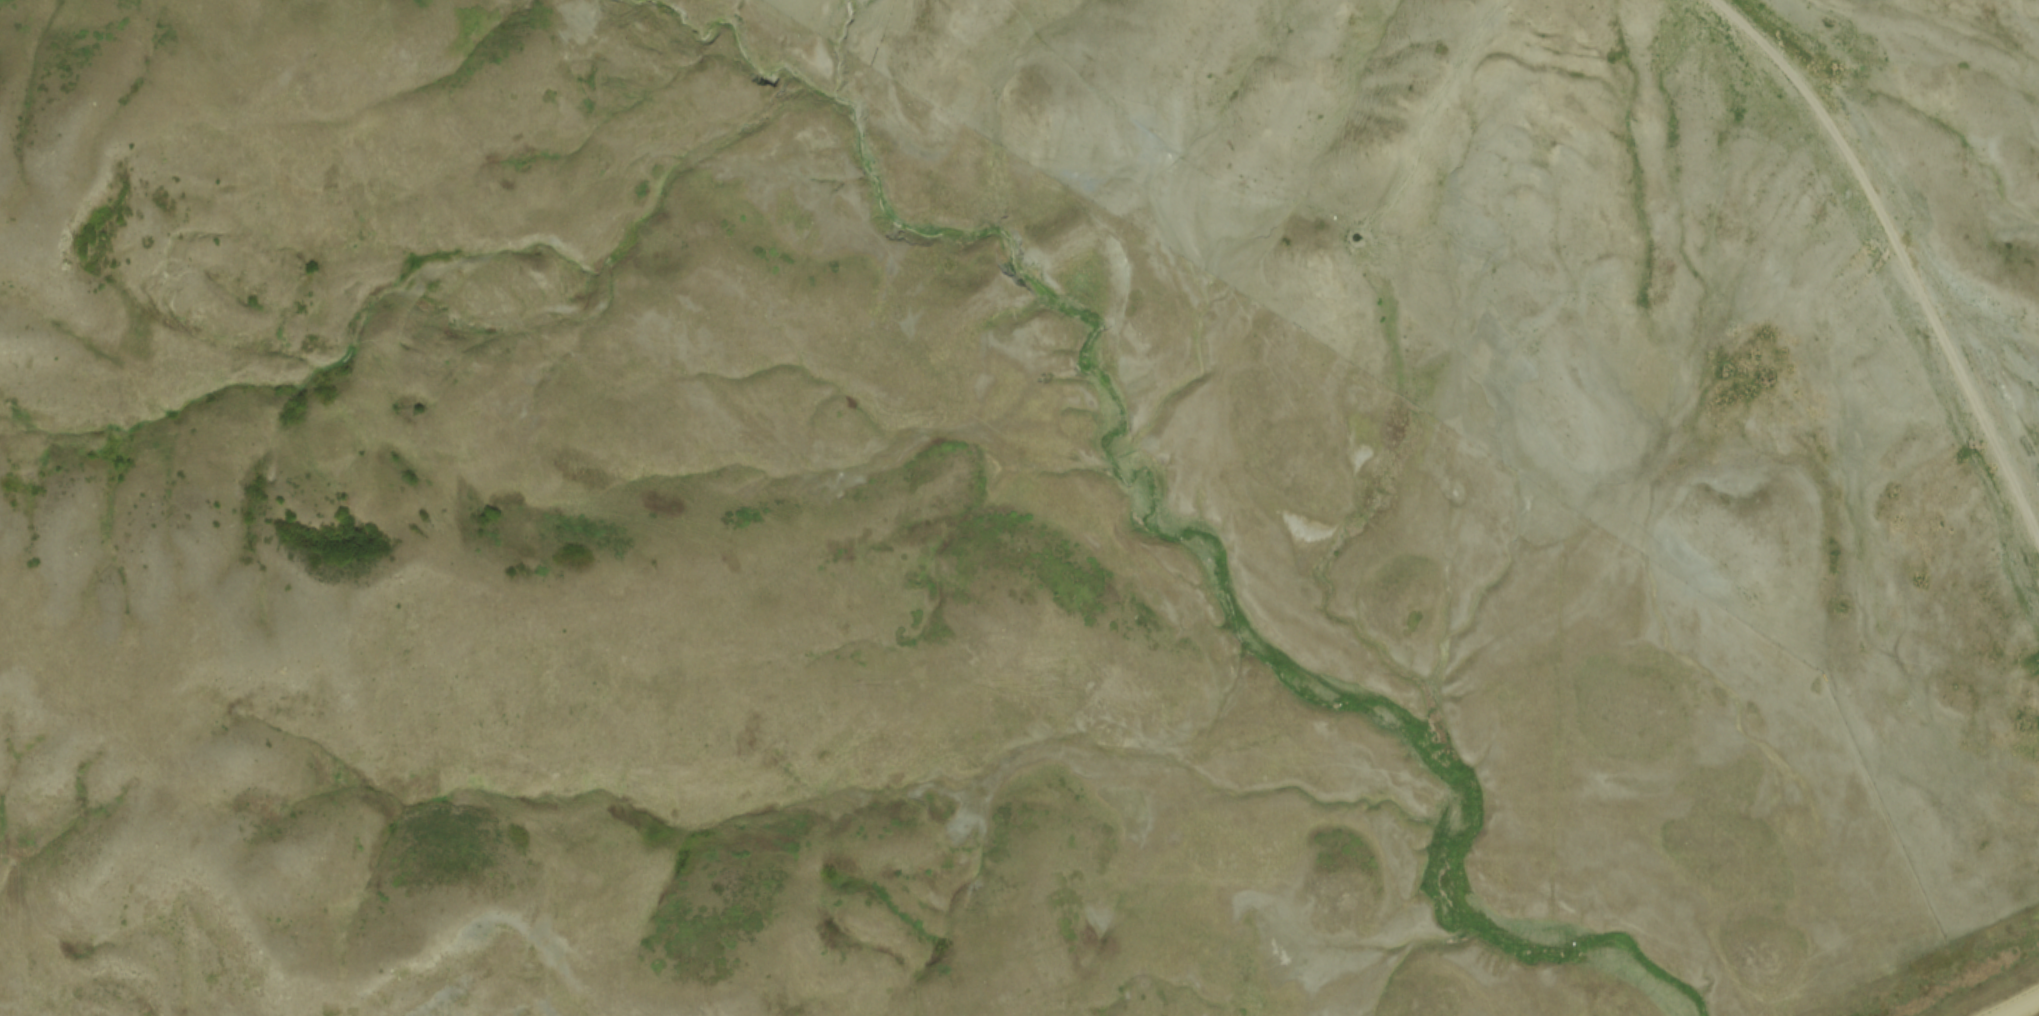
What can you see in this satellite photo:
road: (2021, 1006)

